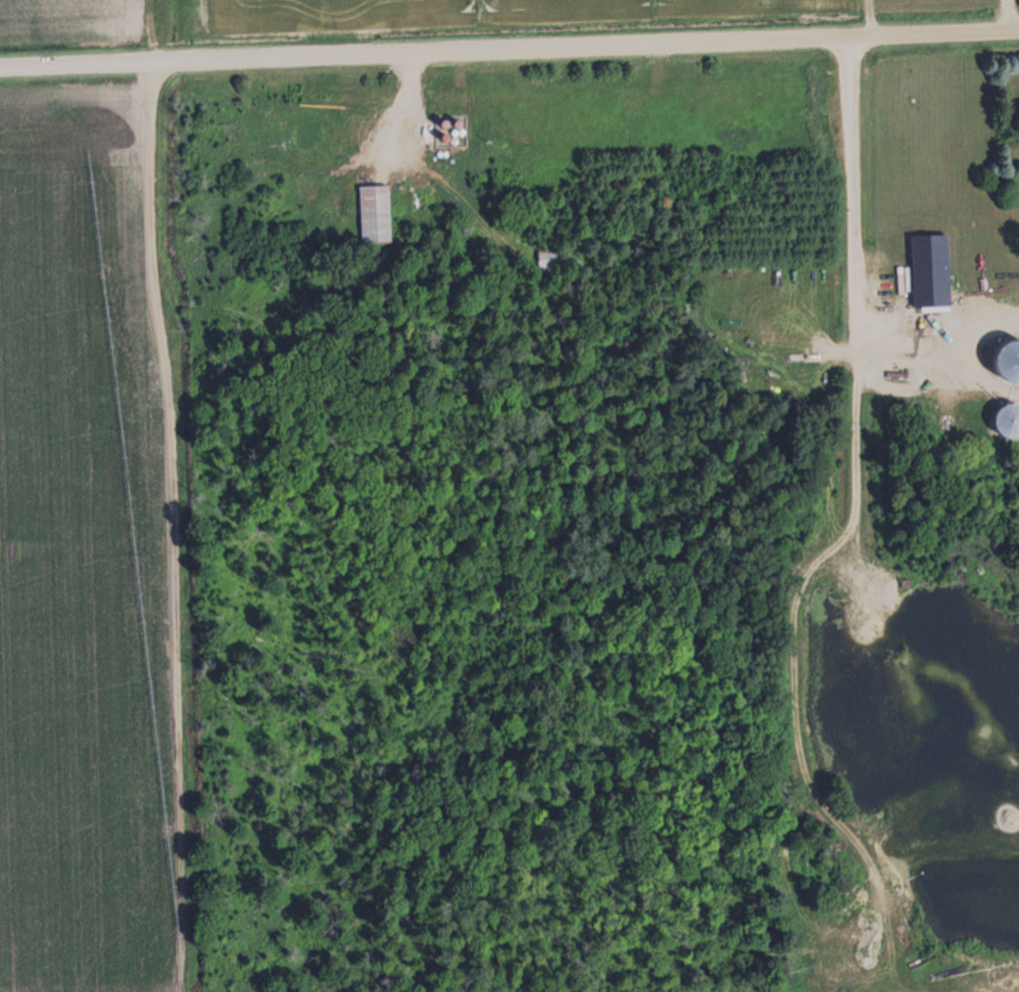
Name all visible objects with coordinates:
road: (509, 47)
building: (373, 212)
building: (554, 259)
building: (1007, 358)
building: (1005, 417)

